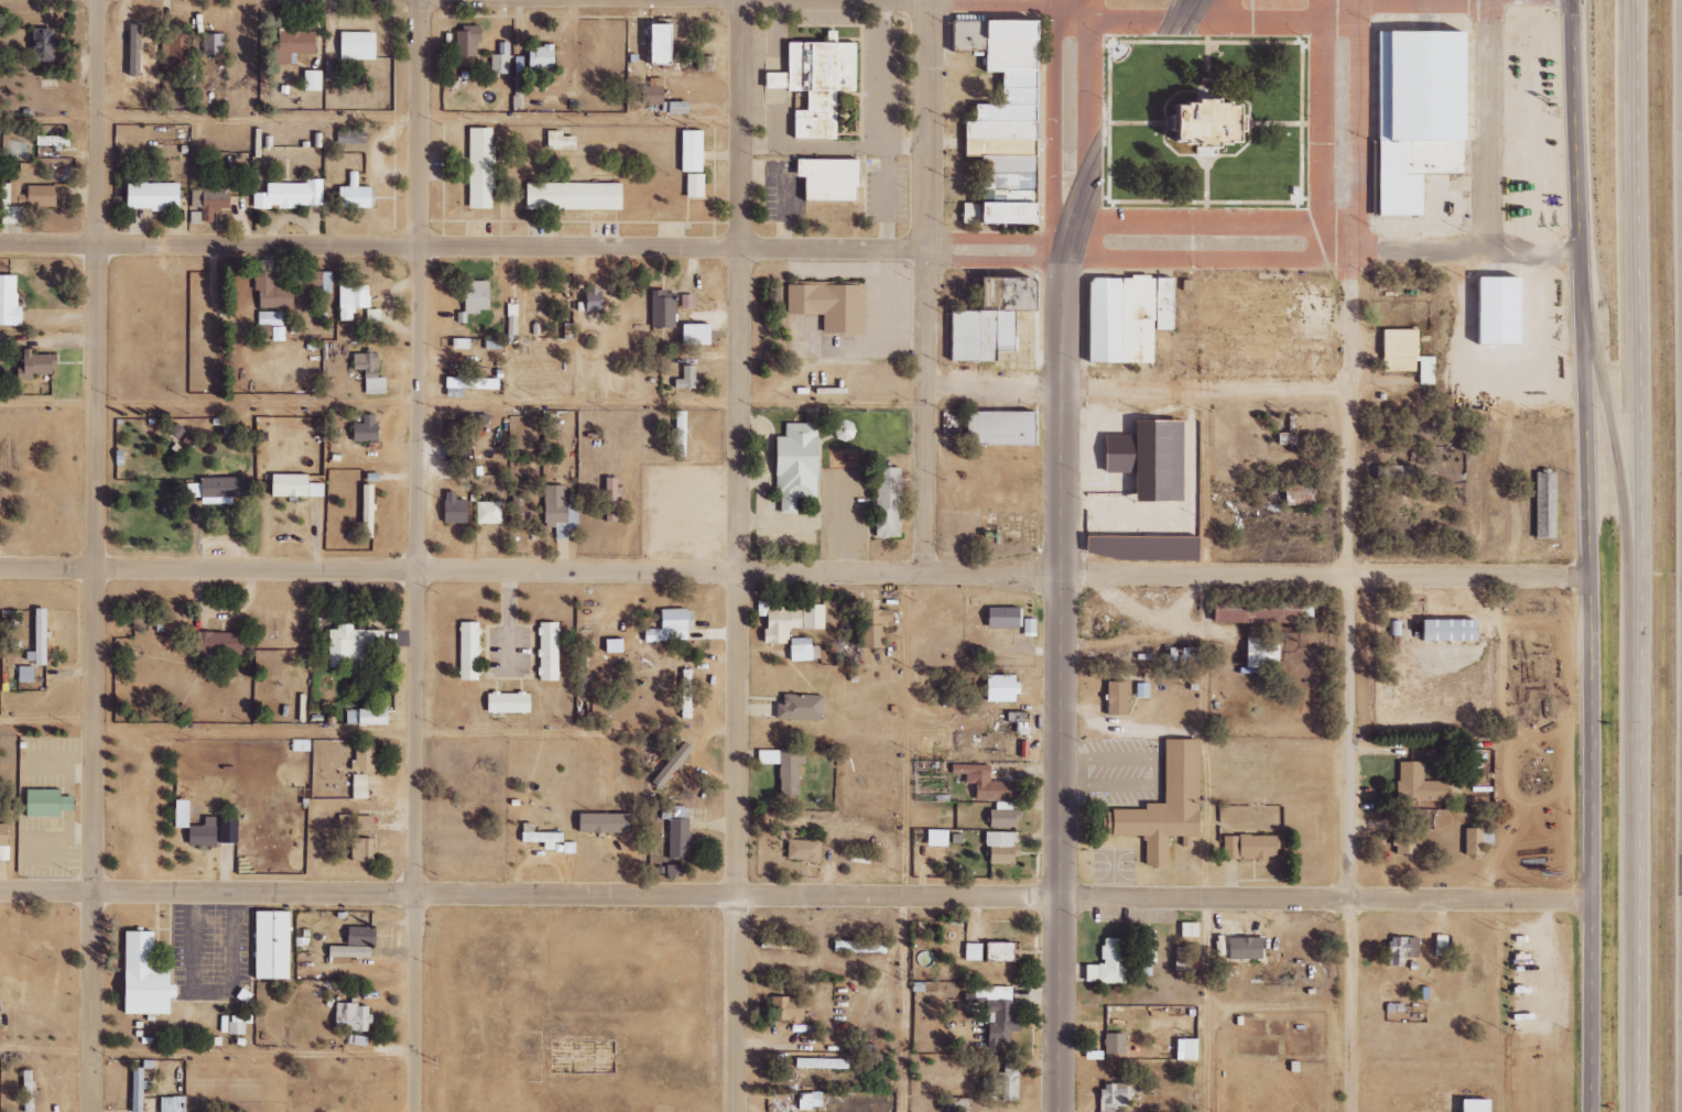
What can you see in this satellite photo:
road: (1345, 1)
road: (1397, 1)
building: (1010, 12)
road: (1206, 24)
building: (464, 42)
building: (654, 42)
building: (991, 43)
building: (44, 44)
building: (214, 44)
building: (290, 45)
building: (352, 45)
building: (135, 51)
building: (176, 52)
building: (536, 56)
building: (498, 59)
building: (307, 80)
building: (827, 86)
building: (649, 92)
road: (1132, 105)
building: (671, 107)
road: (1067, 107)
building: (1009, 110)
building: (1217, 116)
road: (370, 122)
road: (1344, 122)
building: (1430, 122)
road: (1497, 128)
building: (347, 137)
building: (994, 137)
building: (315, 140)
building: (54, 141)
building: (254, 141)
building: (555, 141)
building: (14, 149)
building: (686, 151)
building: (477, 168)
building: (31, 170)
building: (1279, 171)
building: (1001, 172)
building: (838, 181)
building: (691, 185)
building: (7, 195)
building: (287, 195)
building: (350, 195)
building: (43, 196)
building: (148, 196)
building: (569, 196)
building: (204, 203)
building: (990, 212)
building: (13, 216)
road: (1202, 229)
road: (532, 246)
road: (1459, 255)
road: (1204, 264)
building: (312, 282)
road: (929, 287)
building: (269, 291)
building: (471, 296)
building: (348, 299)
building: (586, 299)
building: (10, 301)
building: (684, 302)
building: (660, 308)
building: (842, 309)
building: (1508, 314)
building: (369, 316)
building: (509, 316)
building: (1122, 317)
building: (984, 318)
building: (271, 324)
building: (692, 334)
building: (3, 341)
building: (1401, 355)
building: (36, 363)
building: (366, 372)
building: (683, 378)
road: (1139, 388)
road: (464, 408)
building: (367, 428)
building: (1010, 429)
building: (675, 434)
building: (1142, 459)
building: (806, 467)
building: (1392, 472)
building: (297, 484)
building: (218, 489)
building: (1293, 494)
road: (1623, 495)
building: (607, 499)
building: (883, 502)
building: (898, 506)
building: (1541, 506)
building: (452, 509)
building: (370, 510)
building: (557, 510)
building: (1554, 510)
building: (521, 512)
building: (486, 513)
road: (737, 555)
road: (1588, 555)
road: (1639, 555)
road: (96, 556)
road: (417, 556)
road: (794, 571)
building: (1256, 612)
building: (999, 618)
building: (788, 622)
building: (672, 626)
building: (870, 626)
building: (1392, 629)
building: (1458, 630)
building: (1404, 631)
building: (41, 637)
building: (224, 643)
building: (354, 645)
building: (471, 650)
building: (800, 650)
building: (550, 651)
building: (1173, 656)
building: (1256, 657)
road: (1060, 662)
building: (26, 673)
road: (1349, 678)
building: (996, 688)
building: (1111, 699)
building: (511, 702)
building: (802, 707)
building: (376, 716)
building: (352, 717)
building: (366, 756)
building: (672, 762)
building: (1480, 766)
building: (785, 767)
building: (981, 783)
building: (361, 786)
building: (1429, 788)
building: (50, 803)
building: (1176, 807)
building: (185, 813)
building: (1000, 816)
building: (367, 822)
building: (606, 822)
building: (214, 833)
building: (542, 837)
building: (680, 840)
building: (4, 841)
building: (1474, 841)
road: (914, 842)
building: (1487, 843)
building: (1417, 846)
building: (1001, 847)
building: (365, 849)
building: (1259, 849)
building: (805, 850)
building: (677, 869)
road: (795, 894)
building: (1191, 929)
building: (360, 941)
building: (785, 944)
building: (274, 945)
building: (861, 946)
building: (1402, 948)
building: (1240, 950)
building: (975, 951)
building: (1002, 951)
building: (1147, 951)
building: (1185, 958)
building: (1110, 962)
building: (149, 977)
road: (1220, 1004)
road: (1520, 1007)
building: (789, 1009)
building: (354, 1016)
building: (999, 1016)
building: (225, 1023)
building: (238, 1024)
building: (1116, 1044)
building: (1189, 1049)
road: (207, 1056)
building: (822, 1062)
building: (1008, 1081)
building: (140, 1089)
building: (30, 1090)
building: (1115, 1097)
building: (177, 1104)
building: (1485, 1105)

